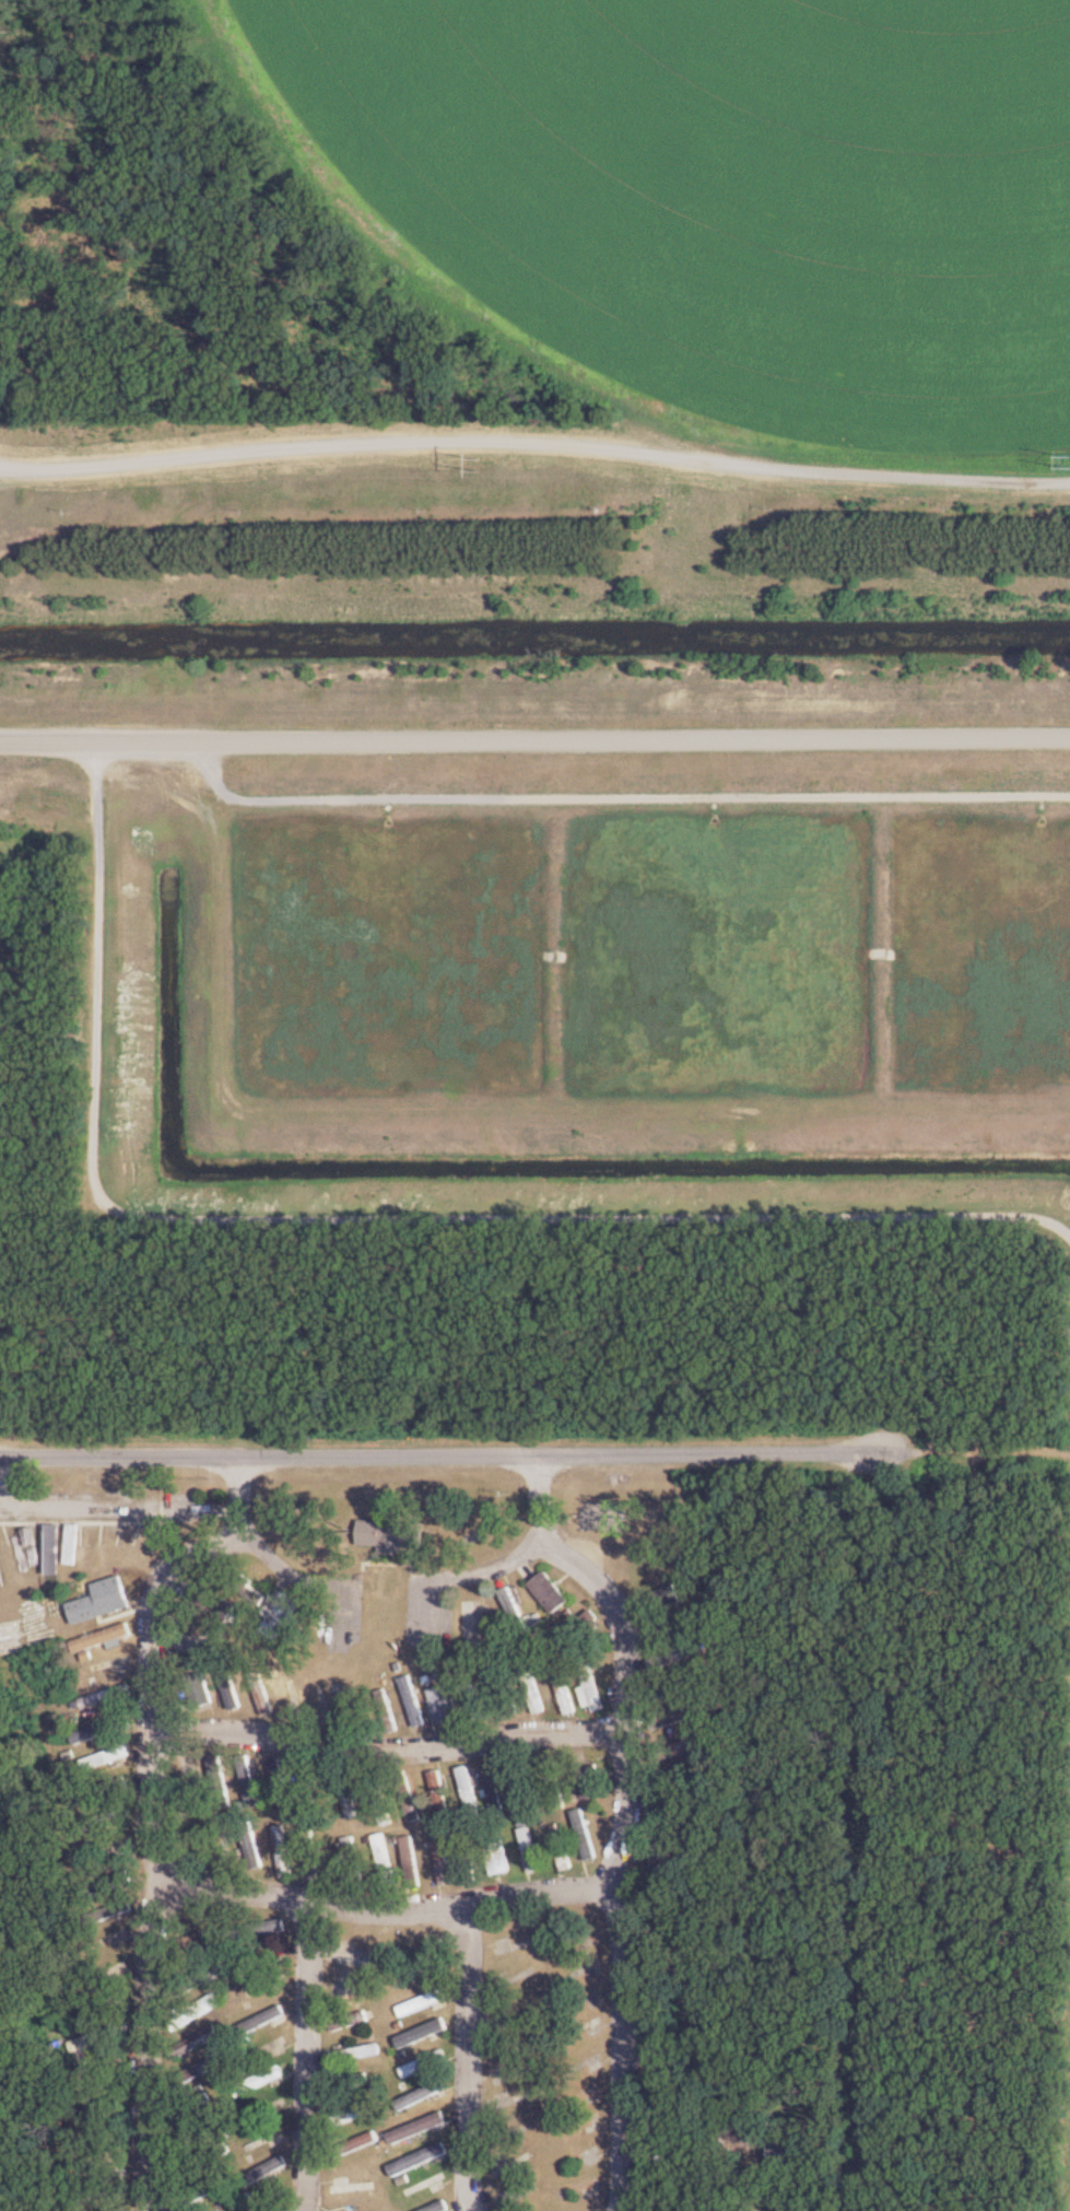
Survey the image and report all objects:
road: (258, 449)
power tower: (1066, 456)
power tower: (481, 460)
road: (28, 471)
wastewater plant: (551, 587)
road: (534, 733)
road: (621, 796)
road: (448, 1455)
road: (549, 1498)
road: (244, 1499)
road: (116, 1504)
building: (392, 1534)
building: (249, 1589)
building: (551, 1592)
building: (667, 1598)
building: (104, 1601)
building: (215, 1604)
building: (516, 1608)
building: (281, 1613)
building: (680, 1625)
building: (584, 1628)
building: (104, 1637)
building: (675, 1657)
building: (686, 1683)
building: (506, 1684)
building: (231, 1685)
building: (534, 1686)
building: (593, 1686)
building: (565, 1687)
building: (200, 1691)
building: (262, 1693)
building: (475, 1693)
building: (108, 1696)
building: (415, 1701)
building: (354, 1703)
building: (446, 1704)
building: (388, 1710)
building: (679, 1718)
building: (678, 1748)
road: (393, 1753)
building: (108, 1757)
building: (678, 1777)
building: (250, 1780)
building: (591, 1780)
building: (221, 1781)
building: (556, 1782)
building: (281, 1783)
building: (309, 1785)
building: (527, 1785)
building: (495, 1790)
building: (102, 1791)
building: (348, 1792)
building: (471, 1792)
building: (442, 1794)
road: (632, 1794)
building: (410, 1798)
building: (381, 1800)
building: (681, 1809)
building: (106, 1818)
road: (163, 1827)
building: (586, 1834)
building: (251, 1841)
building: (531, 1849)
building: (671, 1850)
building: (284, 1851)
building: (564, 1851)
building: (102, 1852)
building: (311, 1852)
building: (469, 1855)
building: (499, 1857)
building: (355, 1860)
building: (387, 1860)
building: (413, 1862)
building: (445, 1862)
building: (108, 1885)
road: (392, 1911)
building: (109, 1912)
building: (258, 1929)
building: (193, 1945)
building: (354, 1954)
building: (201, 1979)
building: (424, 2002)
building: (197, 2012)
building: (352, 2021)
building: (425, 2033)
building: (197, 2043)
building: (356, 2054)
road: (313, 2057)
road: (469, 2059)
building: (425, 2063)
building: (198, 2071)
building: (260, 2082)
building: (352, 2082)
building: (423, 2095)
building: (95, 2101)
building: (352, 2116)
building: (419, 2128)
building: (196, 2134)
building: (356, 2144)
building: (786, 2154)
building: (203, 2160)
building: (420, 2160)
building: (264, 2173)
building: (357, 2187)
building: (205, 2192)
building: (781, 2202)
building: (439, 2207)

